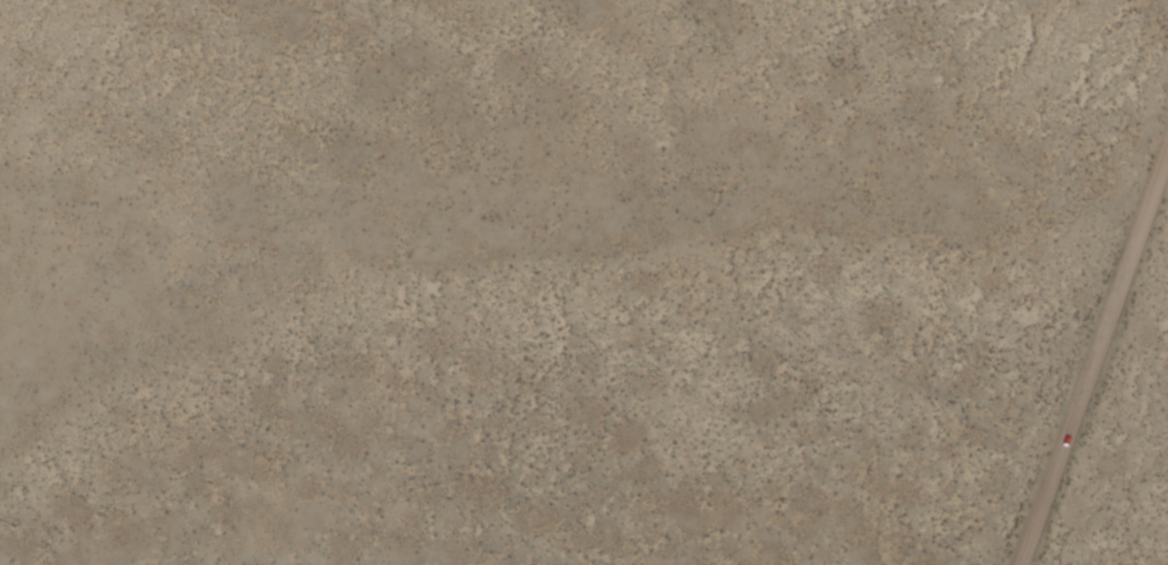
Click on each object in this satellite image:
road: (1097, 365)

